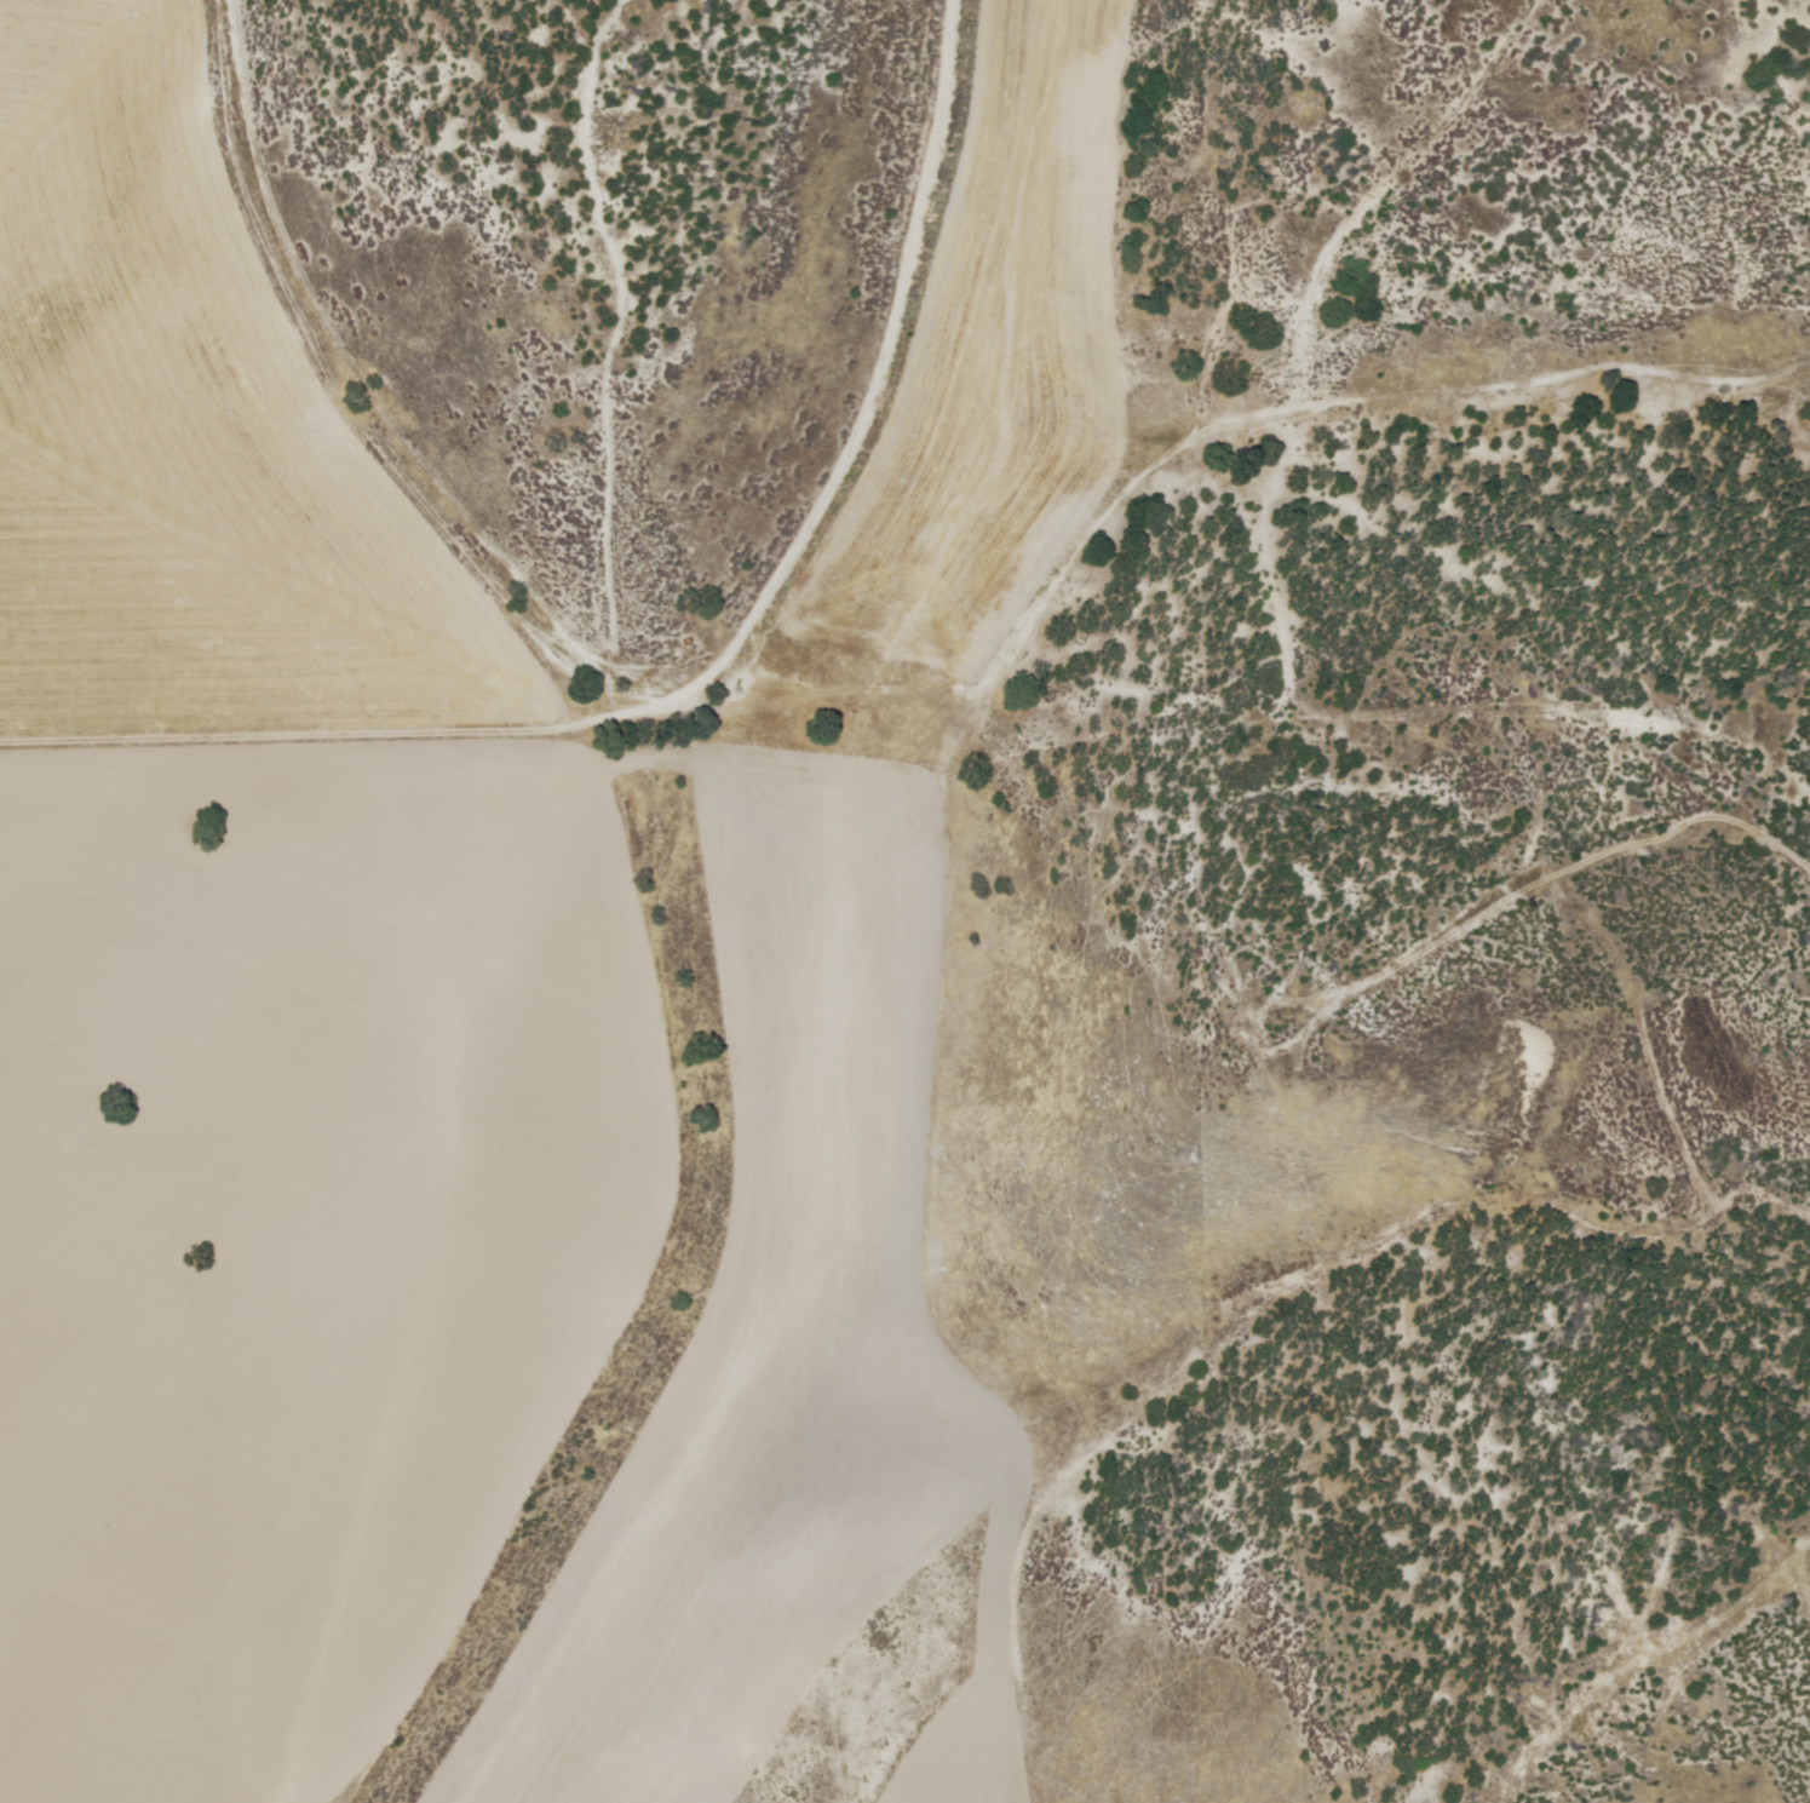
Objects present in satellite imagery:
road: (663, 632)

